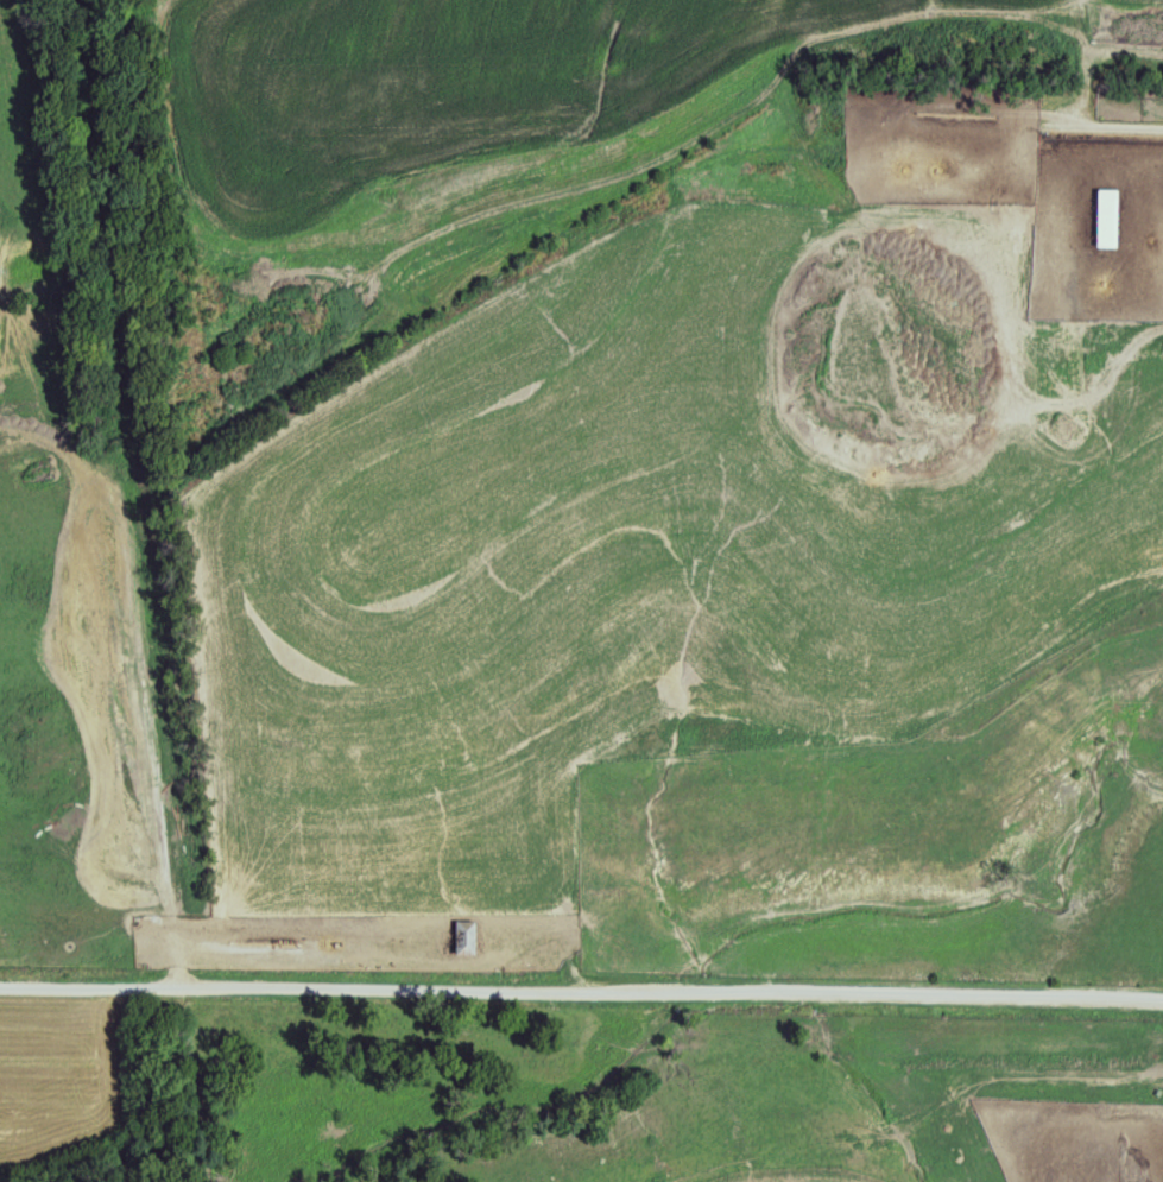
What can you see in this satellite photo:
building: (1111, 219)
building: (468, 940)
road: (581, 995)

